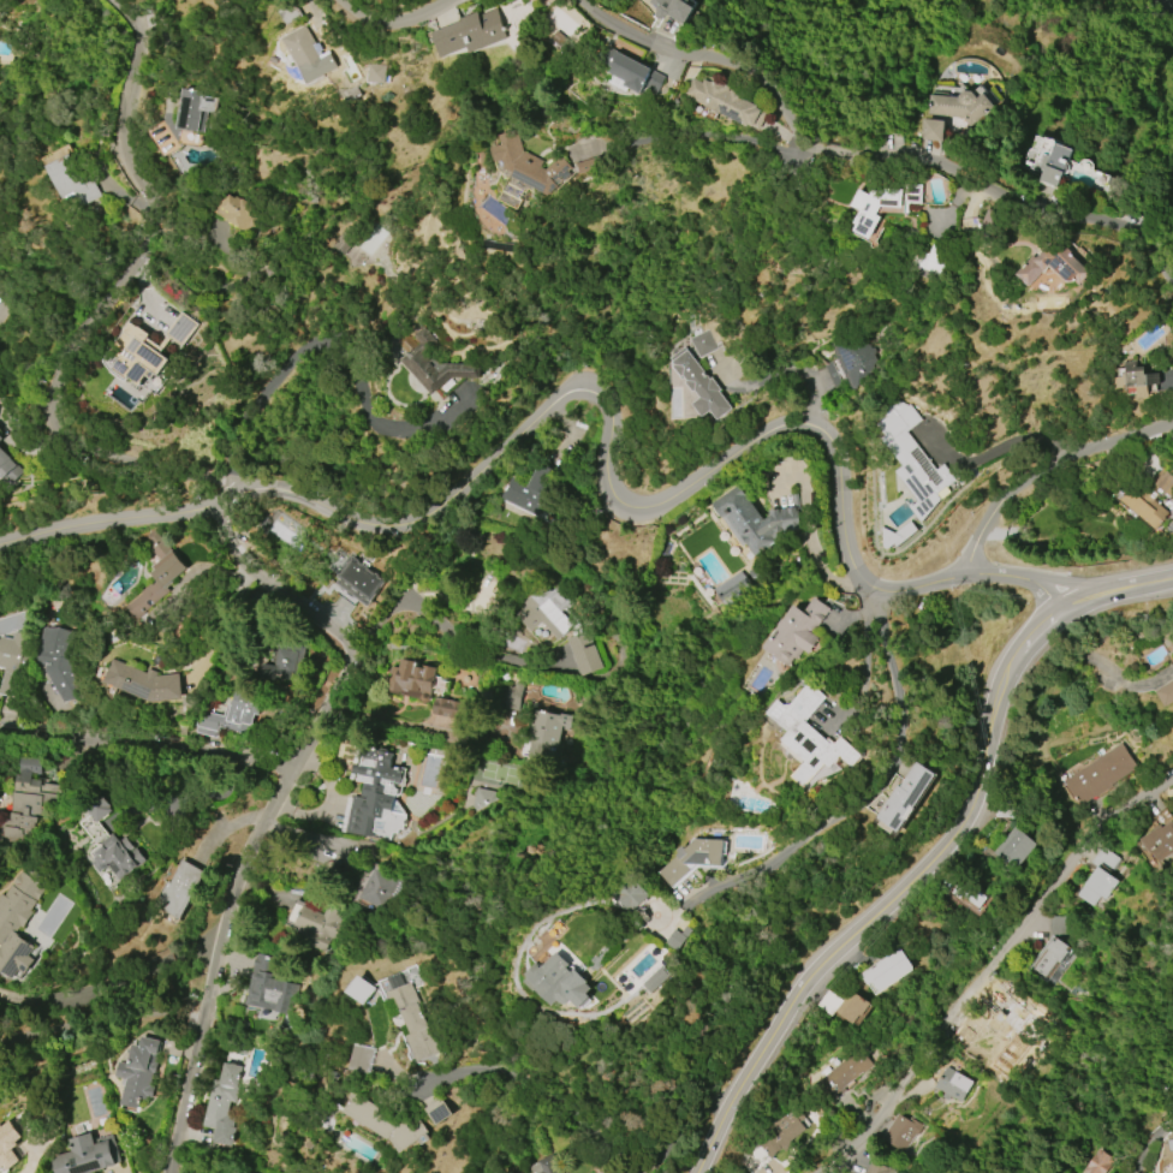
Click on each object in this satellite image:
road: (1169, 2)
building: (672, 10)
building: (291, 12)
road: (392, 25)
building: (471, 32)
building: (311, 55)
building: (627, 71)
building: (376, 72)
building: (725, 102)
building: (963, 105)
building: (193, 108)
building: (933, 130)
road: (867, 157)
building: (530, 165)
building: (589, 165)
building: (1054, 165)
building: (73, 179)
building: (880, 207)
building: (236, 212)
building: (367, 249)
building: (930, 258)
building: (1052, 264)
road: (103, 304)
building: (703, 344)
building: (144, 351)
building: (433, 364)
building: (851, 364)
road: (803, 368)
building: (1137, 379)
building: (701, 386)
building: (0, 429)
road: (1127, 437)
building: (0, 439)
road: (606, 445)
building: (913, 462)
building: (7, 466)
building: (528, 490)
road: (1006, 499)
building: (1150, 500)
building: (751, 520)
road: (123, 523)
building: (340, 567)
road: (969, 574)
building: (159, 577)
road: (1070, 582)
building: (727, 588)
building: (538, 613)
building: (797, 632)
building: (1171, 645)
building: (584, 653)
building: (570, 654)
building: (14, 661)
building: (59, 661)
building: (280, 666)
road: (865, 666)
building: (409, 680)
building: (145, 683)
building: (516, 686)
building: (1166, 693)
building: (442, 708)
building: (226, 716)
road: (383, 719)
building: (548, 732)
building: (528, 734)
building: (809, 737)
road: (144, 751)
building: (1100, 775)
building: (32, 791)
building: (376, 797)
building: (906, 797)
road: (278, 799)
road: (855, 800)
building: (97, 808)
building: (1159, 842)
building: (1013, 849)
building: (114, 857)
road: (934, 857)
building: (696, 858)
building: (1098, 877)
building: (178, 888)
building: (380, 891)
building: (631, 894)
building: (969, 895)
building: (17, 922)
building: (1058, 924)
building: (310, 925)
building: (1052, 958)
road: (988, 966)
building: (886, 970)
road: (130, 977)
building: (656, 980)
building: (560, 981)
building: (267, 988)
building: (363, 990)
building: (842, 1006)
building: (415, 1025)
road: (56, 1028)
building: (1000, 1052)
building: (363, 1059)
building: (137, 1072)
building: (845, 1072)
building: (953, 1085)
building: (221, 1103)
building: (439, 1112)
building: (386, 1123)
building: (784, 1132)
building: (900, 1133)
building: (8, 1144)
building: (1168, 1148)
building: (87, 1156)
building: (1098, 1162)
building: (550, 1165)
building: (877, 1168)
road: (175, 1171)

